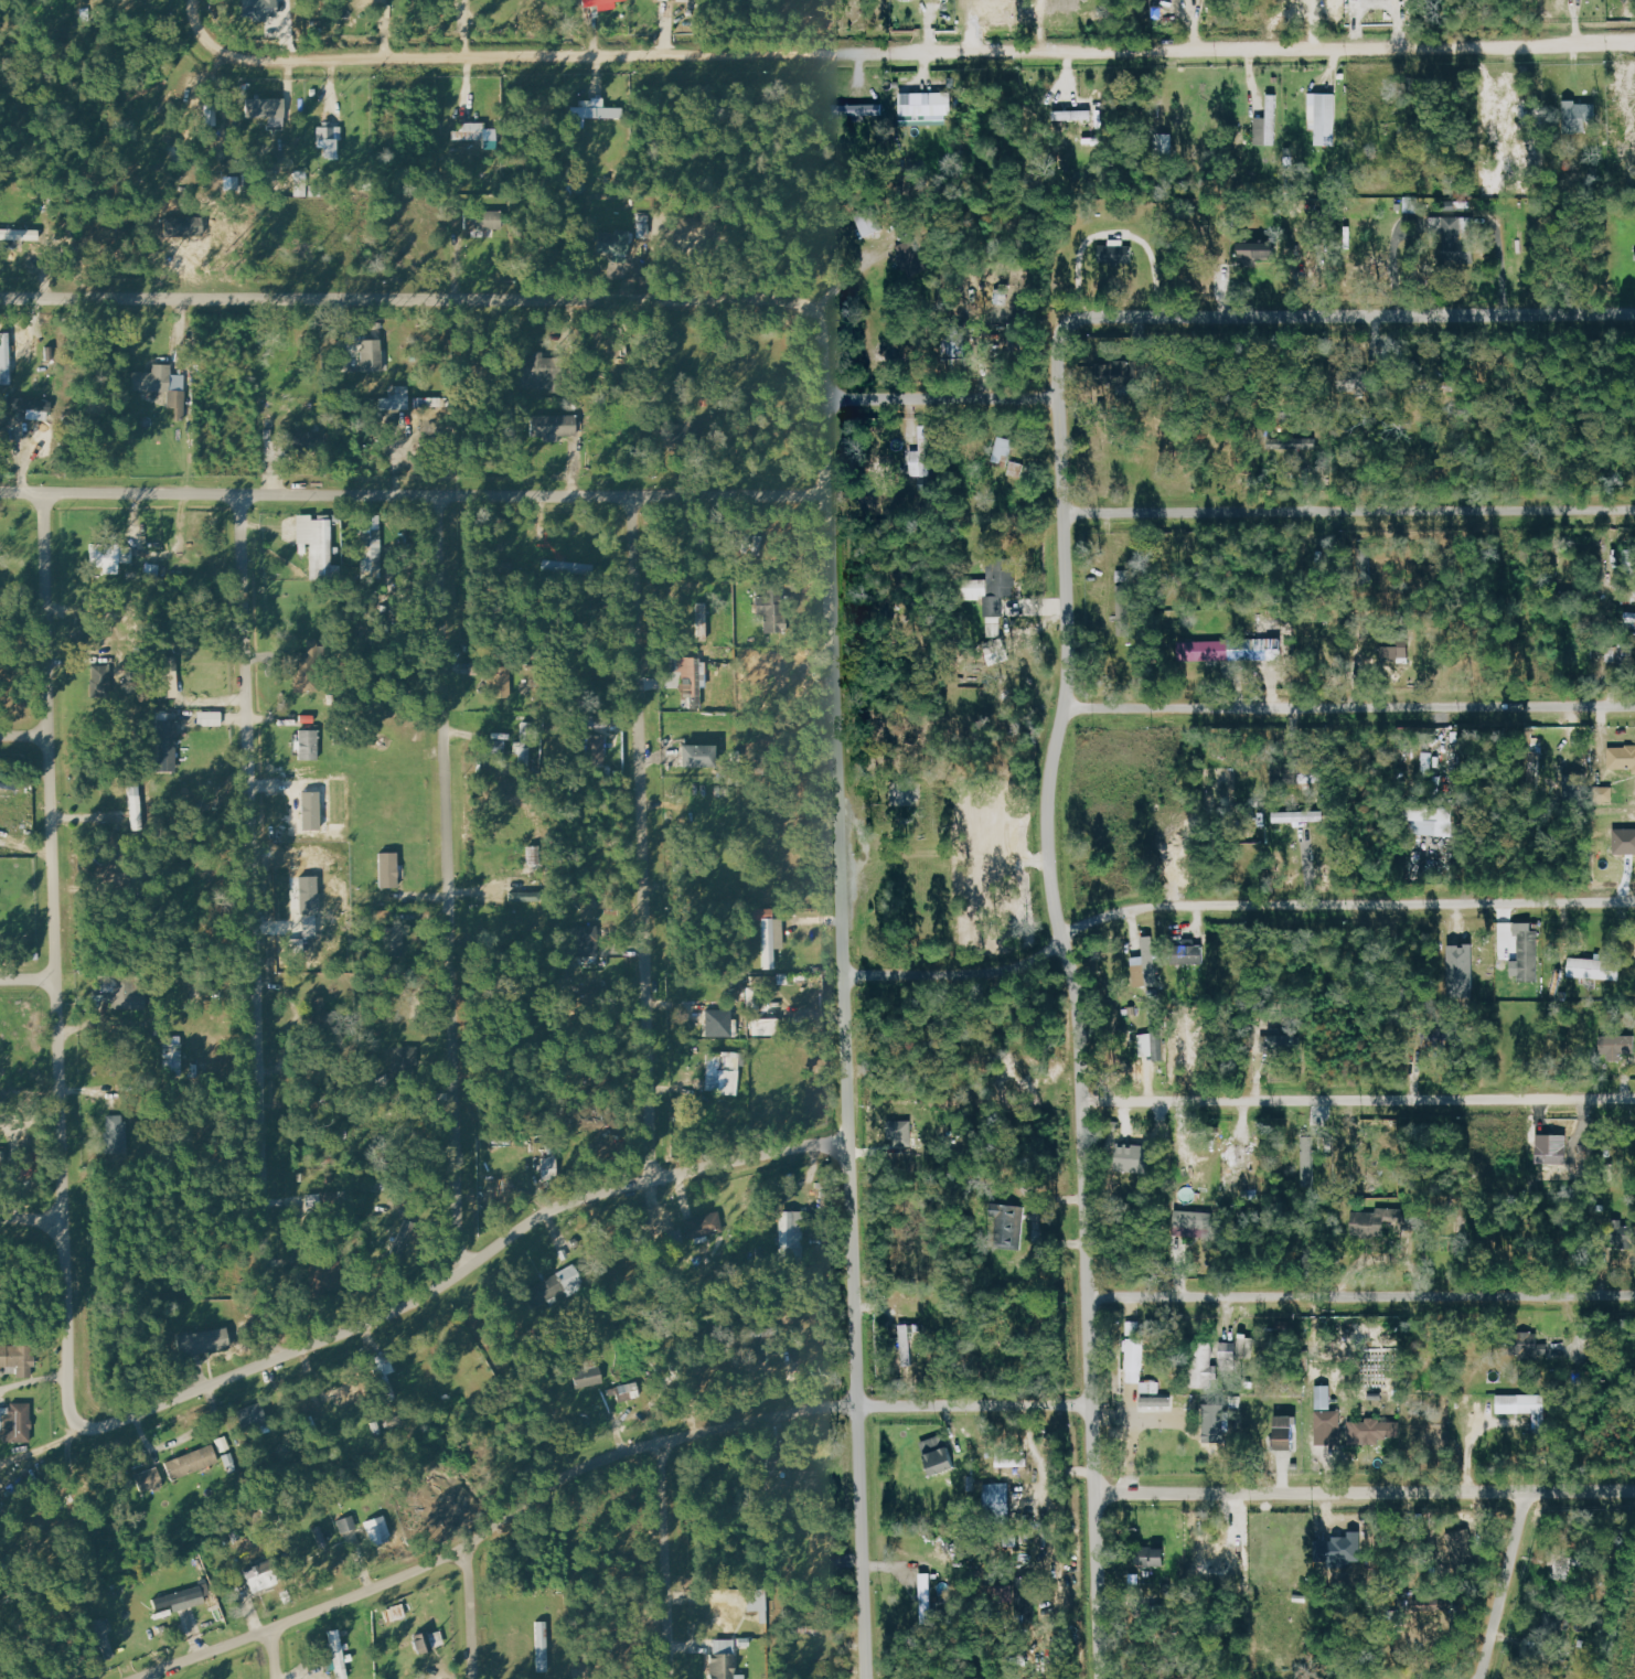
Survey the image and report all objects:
building: (676, 0)
building: (602, 4)
building: (260, 9)
road: (195, 23)
road: (921, 52)
building: (266, 108)
building: (926, 108)
building: (857, 109)
building: (592, 113)
building: (1073, 115)
building: (1574, 116)
building: (1324, 117)
building: (1268, 124)
building: (477, 135)
building: (1167, 141)
building: (330, 142)
building: (301, 186)
building: (483, 221)
building: (869, 222)
building: (20, 235)
road: (1116, 235)
building: (1453, 243)
building: (615, 245)
building: (1310, 249)
building: (1255, 253)
building: (1116, 254)
building: (911, 258)
road: (1502, 261)
road: (847, 279)
road: (404, 300)
road: (1348, 316)
building: (1017, 340)
building: (954, 341)
building: (372, 355)
building: (1139, 370)
building: (1115, 372)
building: (533, 373)
building: (163, 386)
road: (944, 397)
building: (402, 398)
road: (827, 399)
building: (32, 408)
building: (555, 427)
building: (1297, 445)
building: (1001, 451)
building: (921, 454)
building: (1016, 469)
road: (414, 496)
road: (1349, 507)
building: (318, 546)
building: (110, 557)
building: (371, 557)
building: (1365, 557)
building: (1629, 563)
building: (568, 567)
building: (990, 591)
building: (1126, 605)
building: (1631, 619)
building: (703, 622)
building: (1235, 650)
building: (1398, 653)
building: (1618, 654)
building: (304, 676)
building: (168, 677)
building: (100, 681)
building: (502, 683)
road: (1350, 707)
building: (210, 719)
road: (25, 732)
building: (168, 744)
building: (308, 746)
building: (499, 749)
building: (597, 750)
building: (698, 757)
building: (1622, 757)
building: (524, 758)
building: (0, 794)
building: (1604, 794)
building: (136, 806)
road: (841, 816)
building: (1300, 816)
building: (1430, 821)
road: (649, 838)
building: (1624, 842)
building: (532, 856)
building: (388, 870)
road: (450, 885)
road: (1231, 903)
road: (256, 929)
building: (769, 934)
building: (585, 939)
road: (57, 952)
building: (1193, 955)
building: (1530, 955)
building: (1146, 965)
building: (1595, 969)
building: (1462, 972)
road: (29, 977)
building: (128, 993)
road: (1073, 995)
building: (719, 1023)
building: (1280, 1041)
building: (1146, 1044)
building: (1617, 1045)
building: (402, 1058)
building: (723, 1073)
road: (1359, 1099)
building: (119, 1130)
building: (901, 1132)
building: (1, 1155)
building: (1131, 1157)
building: (1308, 1161)
building: (549, 1165)
building: (1233, 1172)
road: (32, 1220)
building: (1382, 1221)
building: (1012, 1223)
building: (1195, 1223)
building: (705, 1225)
building: (1623, 1233)
road: (456, 1279)
building: (571, 1280)
road: (1362, 1296)
building: (203, 1343)
building: (1244, 1344)
building: (1531, 1344)
building: (907, 1345)
building: (1229, 1356)
building: (18, 1360)
building: (1135, 1360)
building: (383, 1365)
building: (1201, 1366)
building: (587, 1373)
building: (628, 1391)
building: (1154, 1394)
building: (345, 1395)
building: (1324, 1397)
building: (1526, 1407)
road: (858, 1410)
building: (252, 1416)
building: (1328, 1420)
building: (14, 1423)
building: (1286, 1426)
building: (1214, 1429)
building: (1376, 1431)
road: (56, 1447)
building: (939, 1454)
building: (1012, 1459)
road: (1040, 1461)
building: (191, 1462)
road: (594, 1466)
building: (150, 1480)
road: (1365, 1493)
building: (997, 1498)
building: (349, 1529)
building: (376, 1529)
building: (325, 1537)
building: (1347, 1548)
building: (1462, 1548)
building: (1153, 1555)
road: (670, 1561)
building: (261, 1576)
road: (1505, 1586)
building: (1026, 1595)
building: (927, 1598)
building: (182, 1600)
road: (472, 1613)
building: (106, 1639)
building: (428, 1641)
building: (543, 1647)
road: (276, 1653)
building: (724, 1660)

